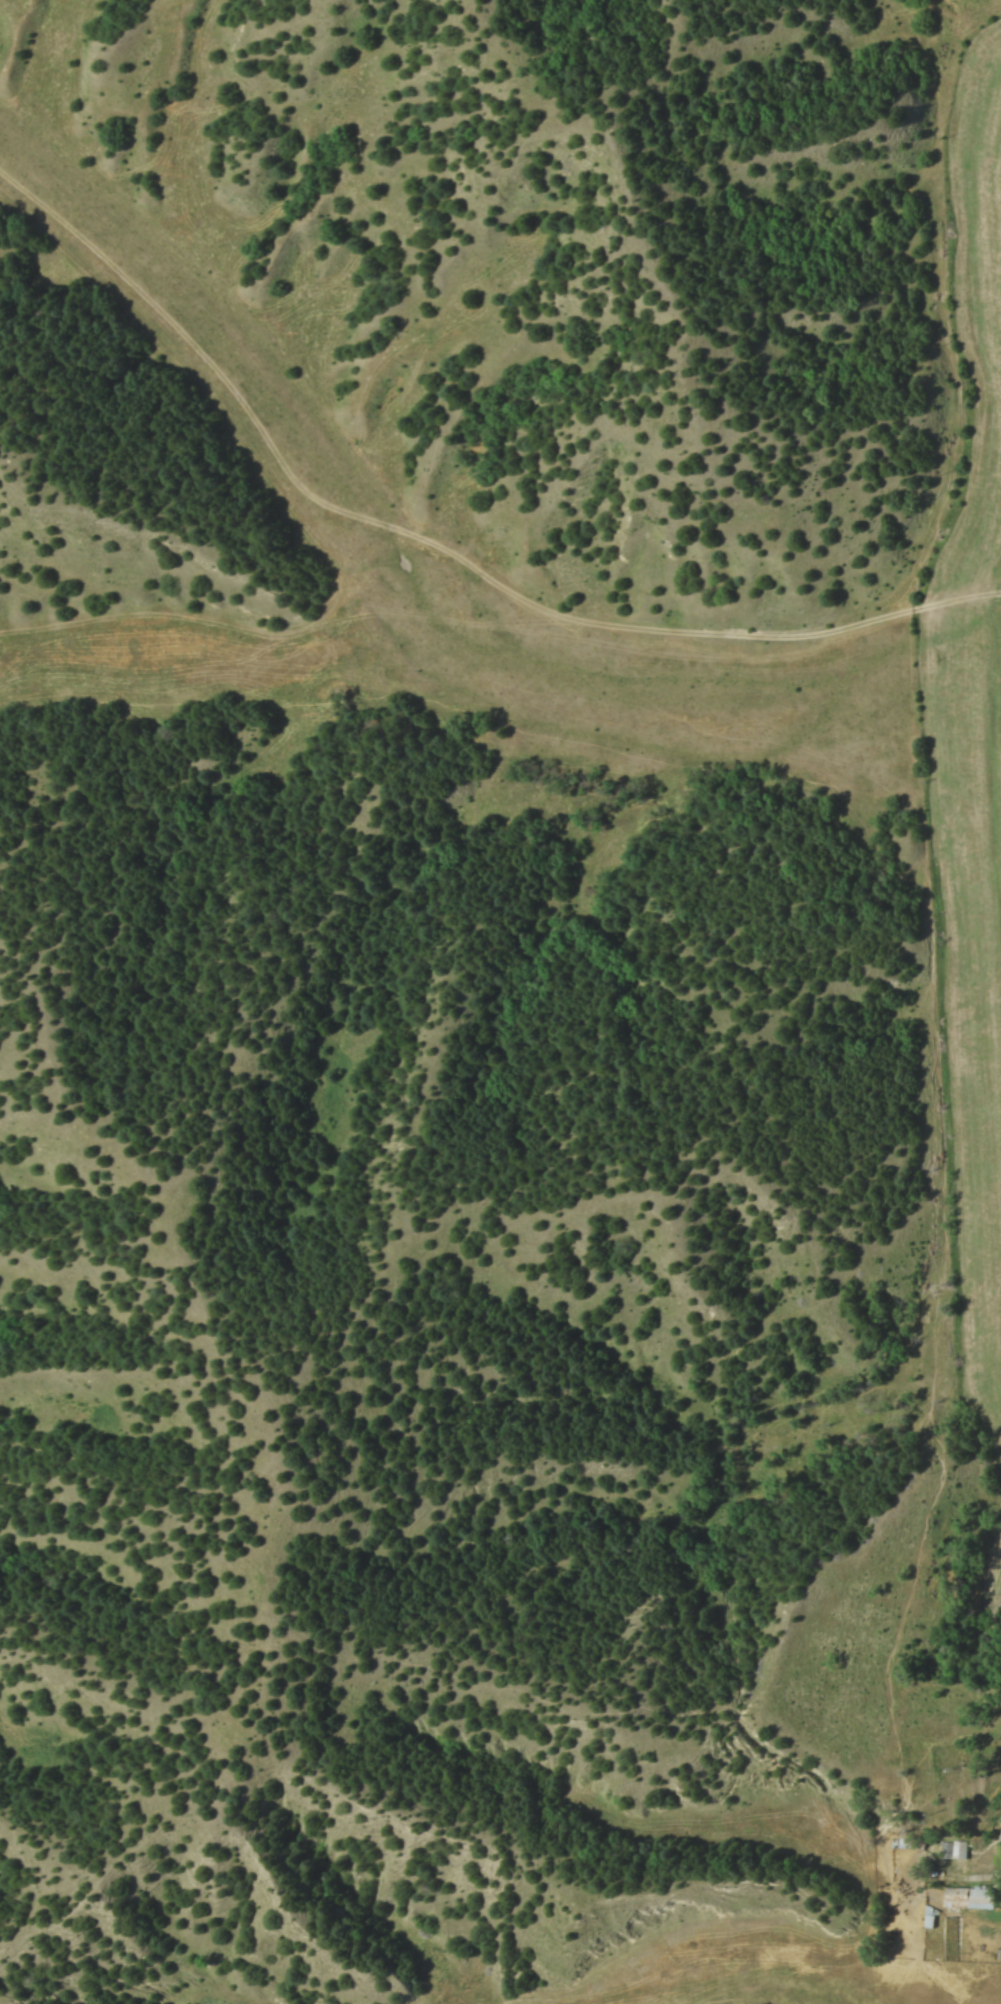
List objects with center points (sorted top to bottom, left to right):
building: (957, 1848)
road: (997, 1863)
building: (970, 1897)
building: (930, 1915)

